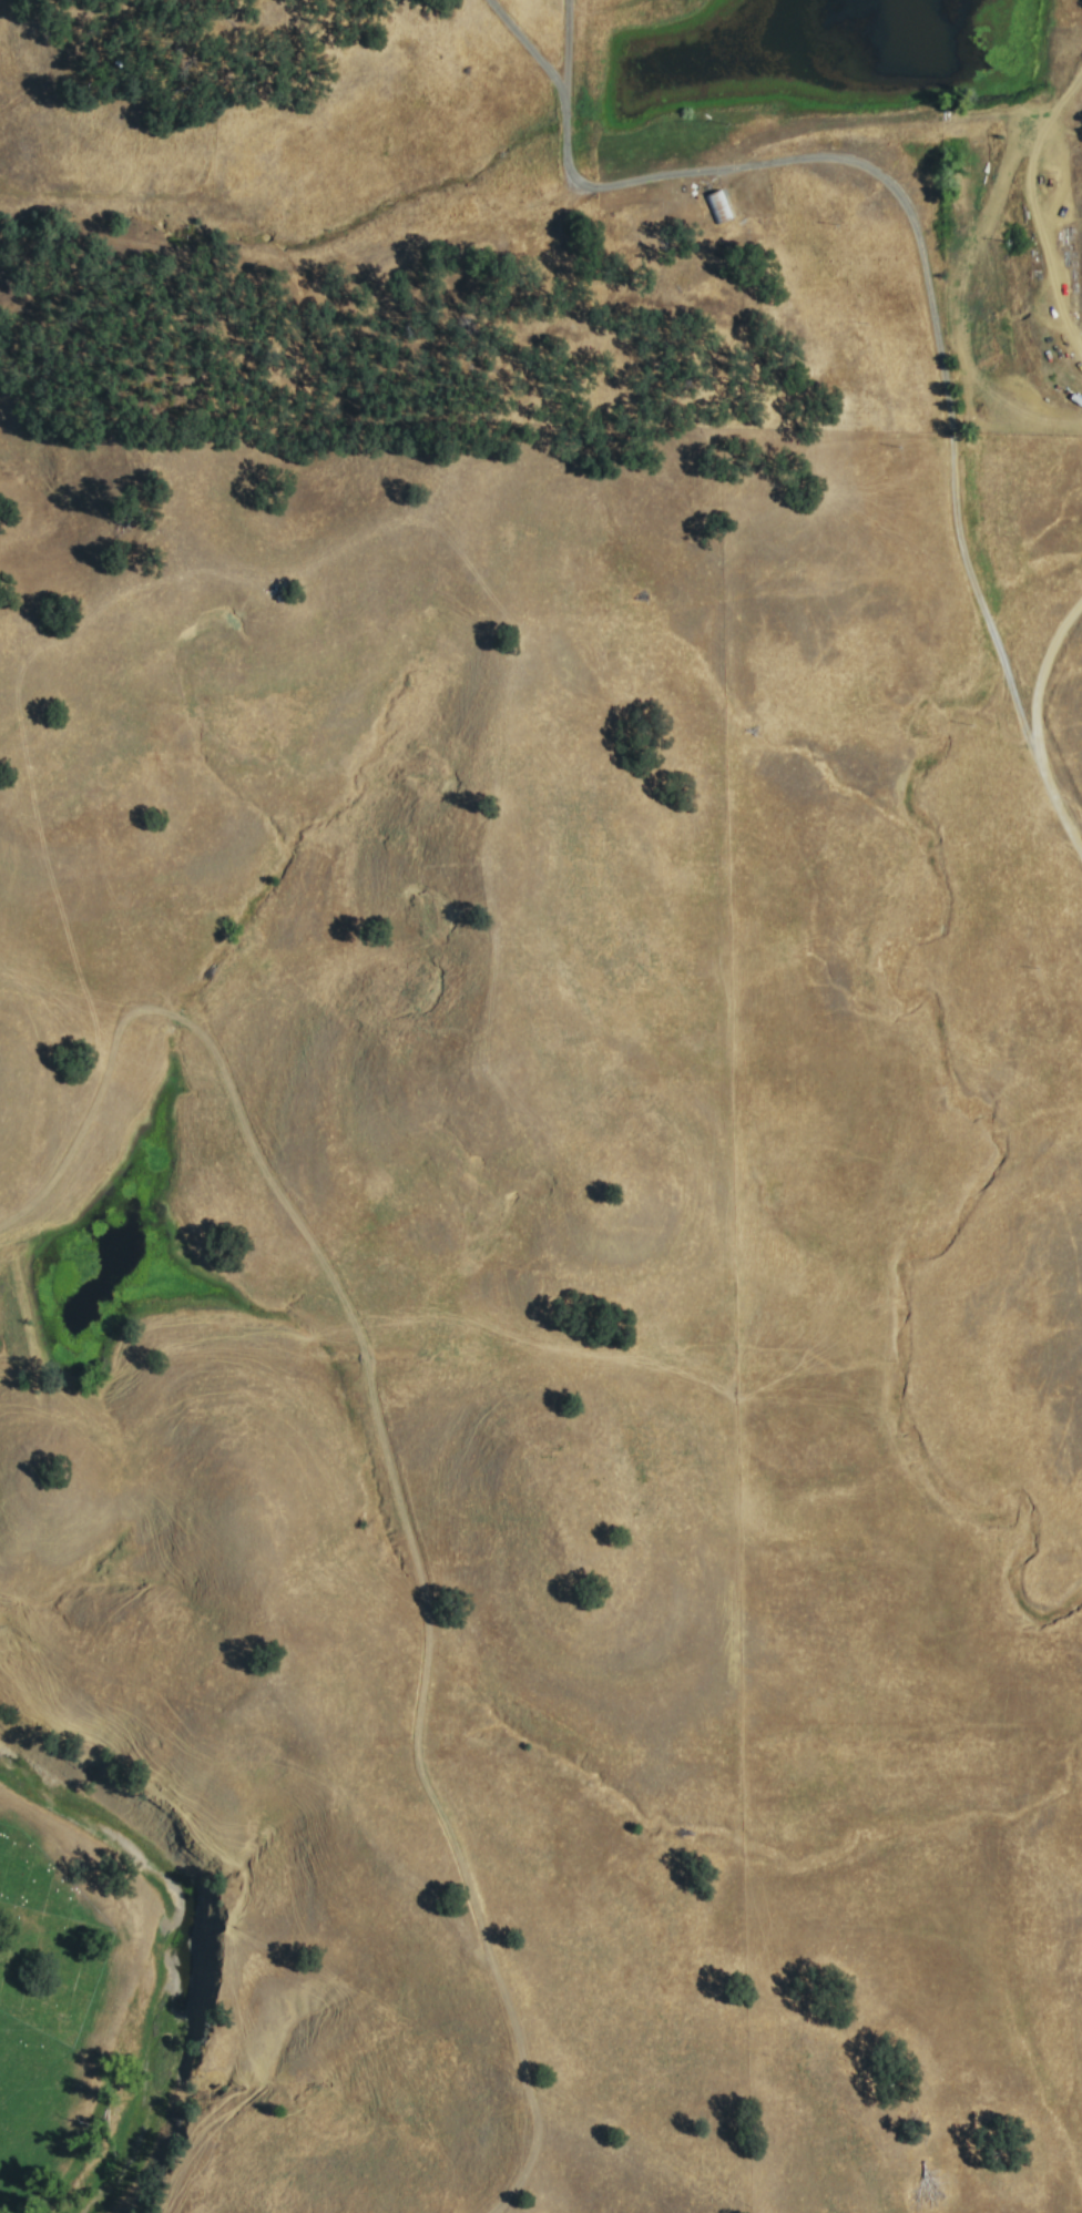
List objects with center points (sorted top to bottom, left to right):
road: (532, 47)
road: (571, 92)
road: (739, 171)
road: (959, 465)
road: (1041, 721)

